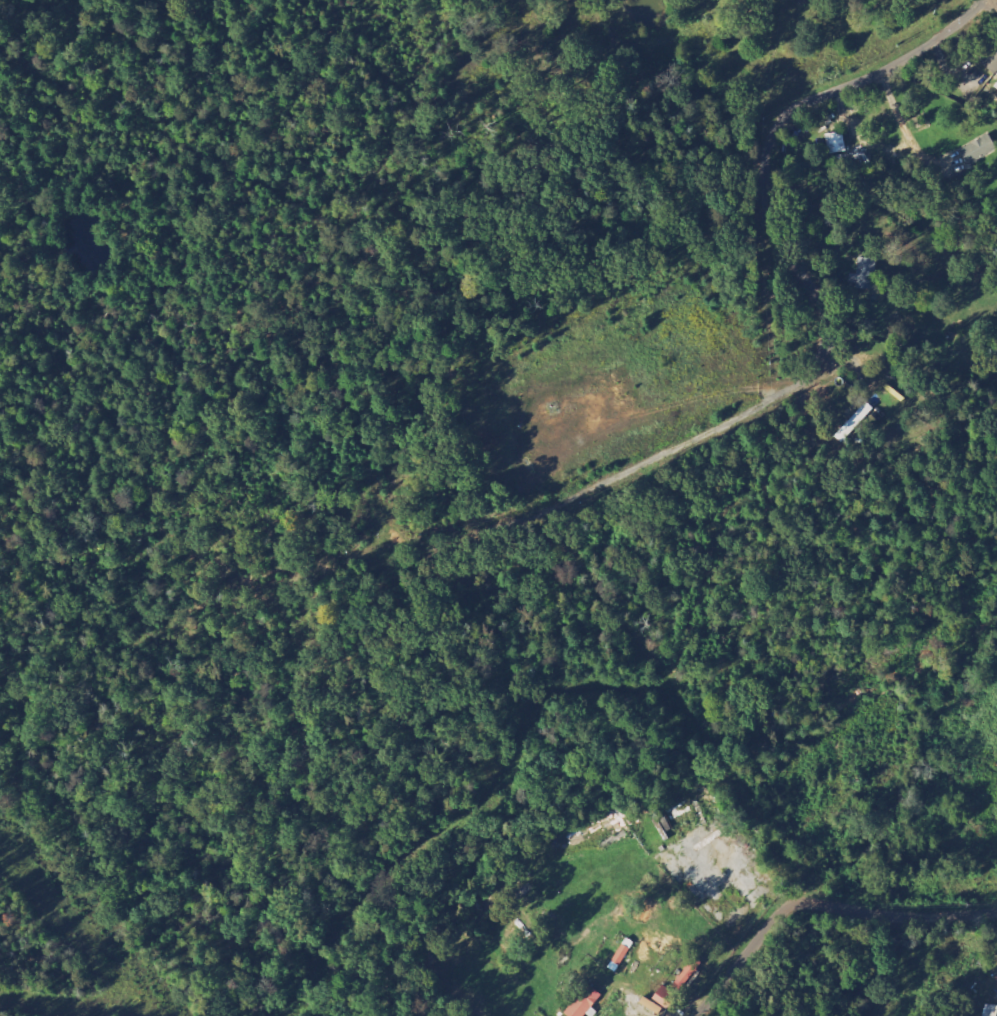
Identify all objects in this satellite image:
road: (995, 1)
building: (991, 53)
road: (868, 71)
building: (835, 143)
building: (978, 149)
building: (866, 271)
road: (895, 914)
road: (739, 952)
building: (621, 955)
building: (688, 971)
building: (664, 996)
building: (583, 1002)

